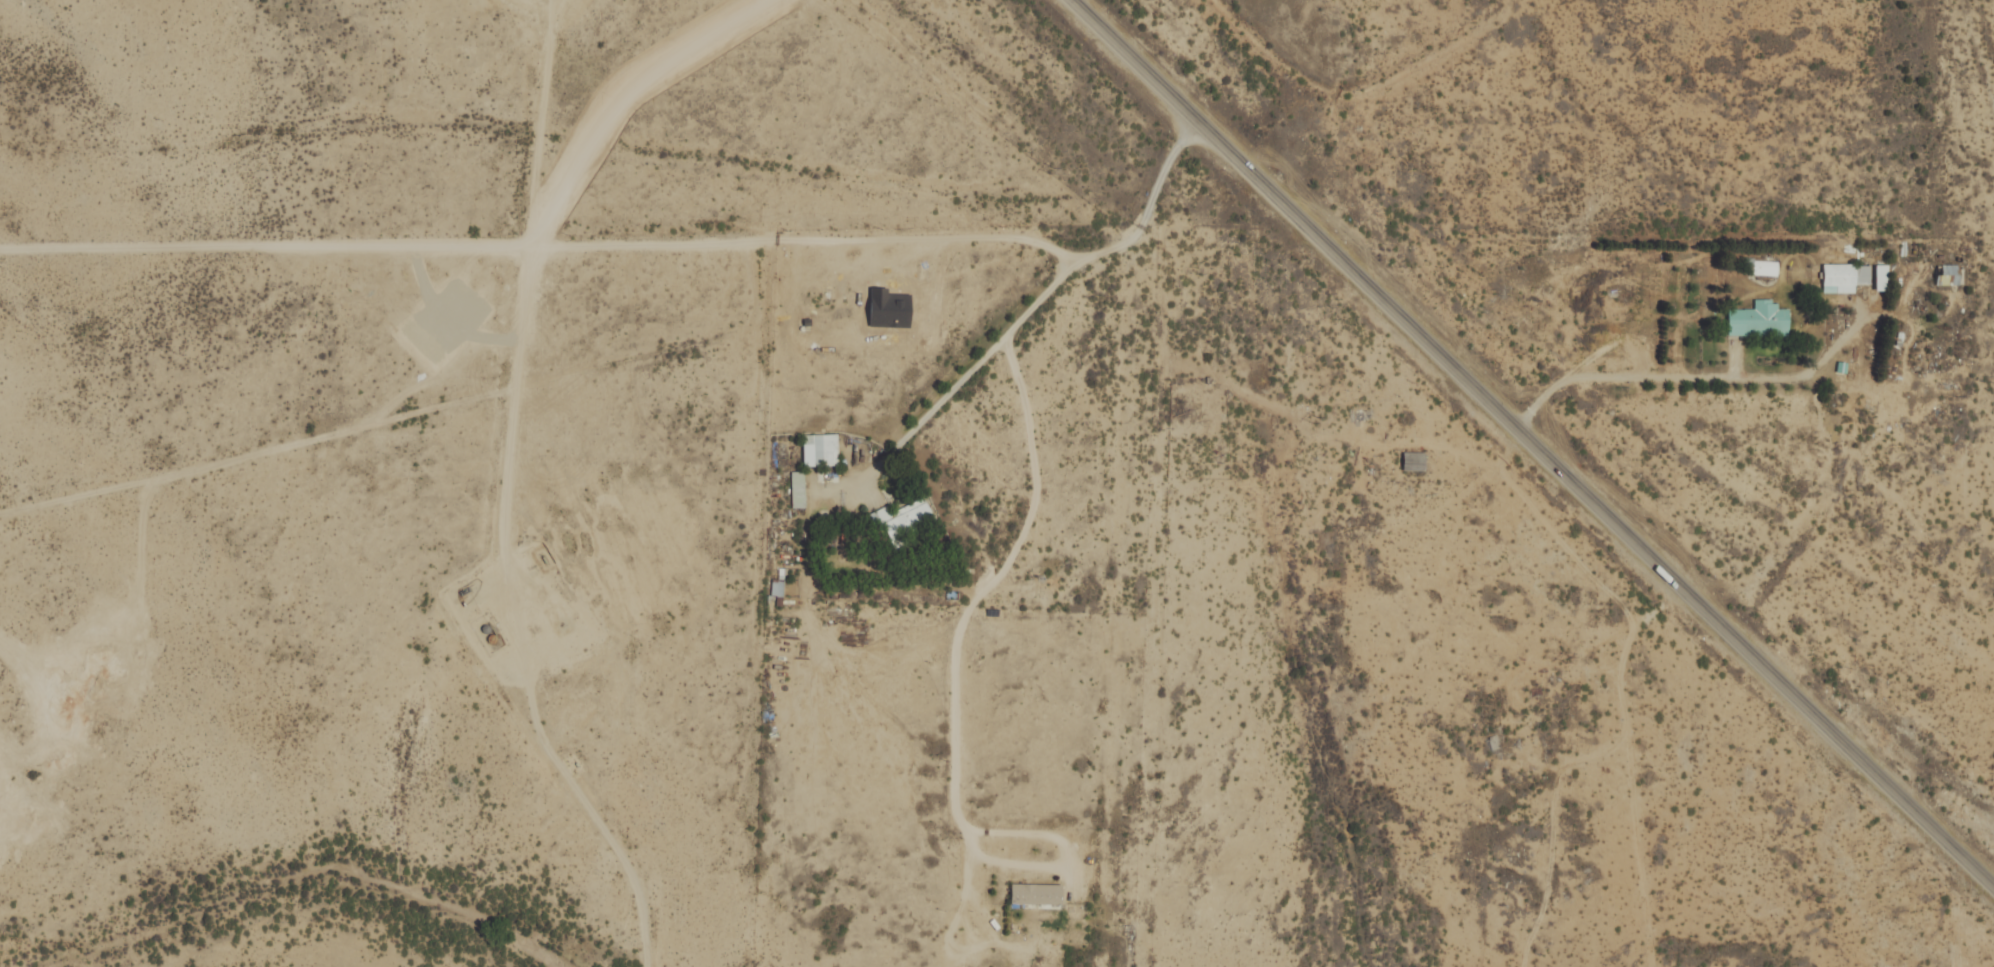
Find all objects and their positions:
power tower: (1054, 165)
road: (541, 248)
building: (1843, 276)
road: (1049, 287)
building: (1752, 319)
power tower: (1314, 417)
road: (1531, 444)
building: (818, 448)
building: (901, 519)
road: (996, 572)
power tower: (1565, 658)
building: (1033, 894)
power tower: (1816, 898)

